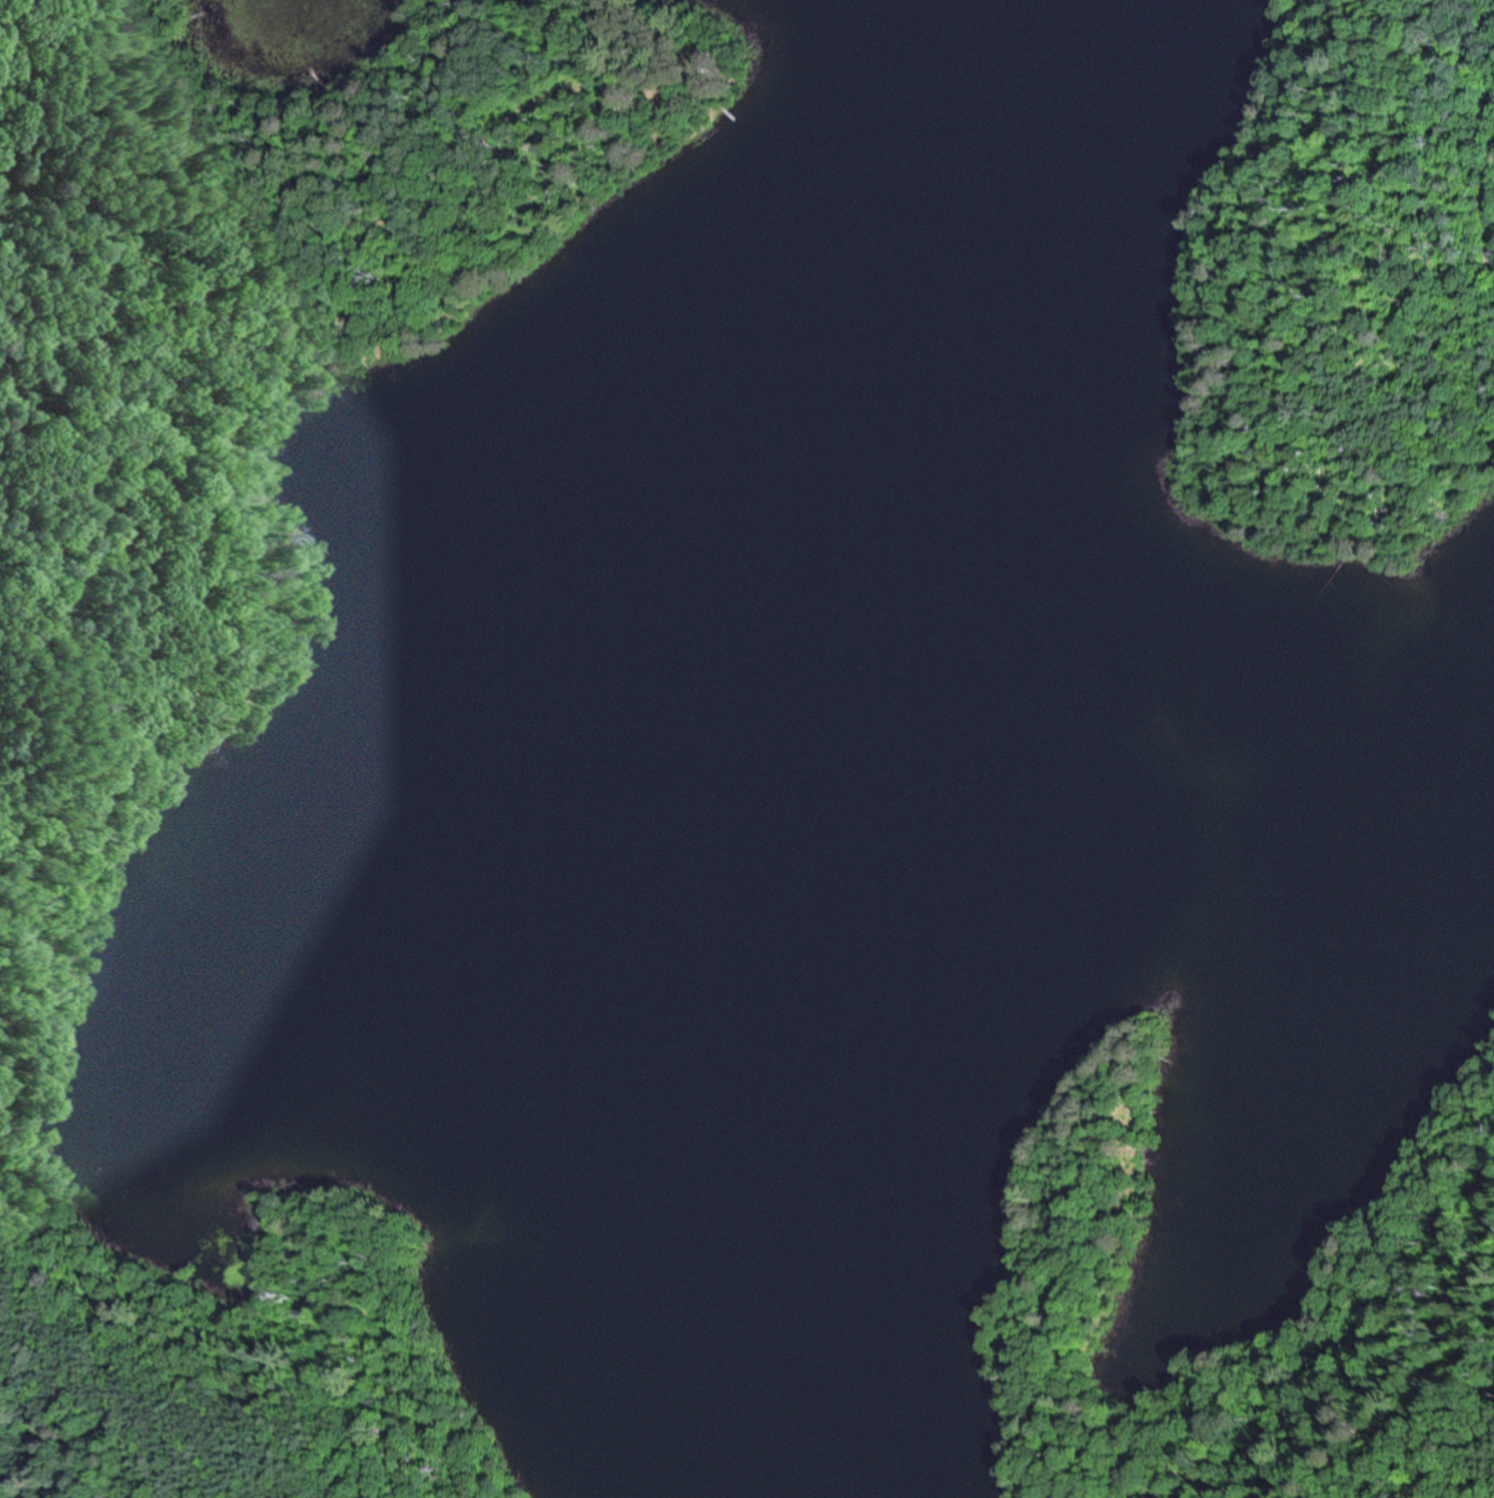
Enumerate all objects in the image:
road: (229, 259)

